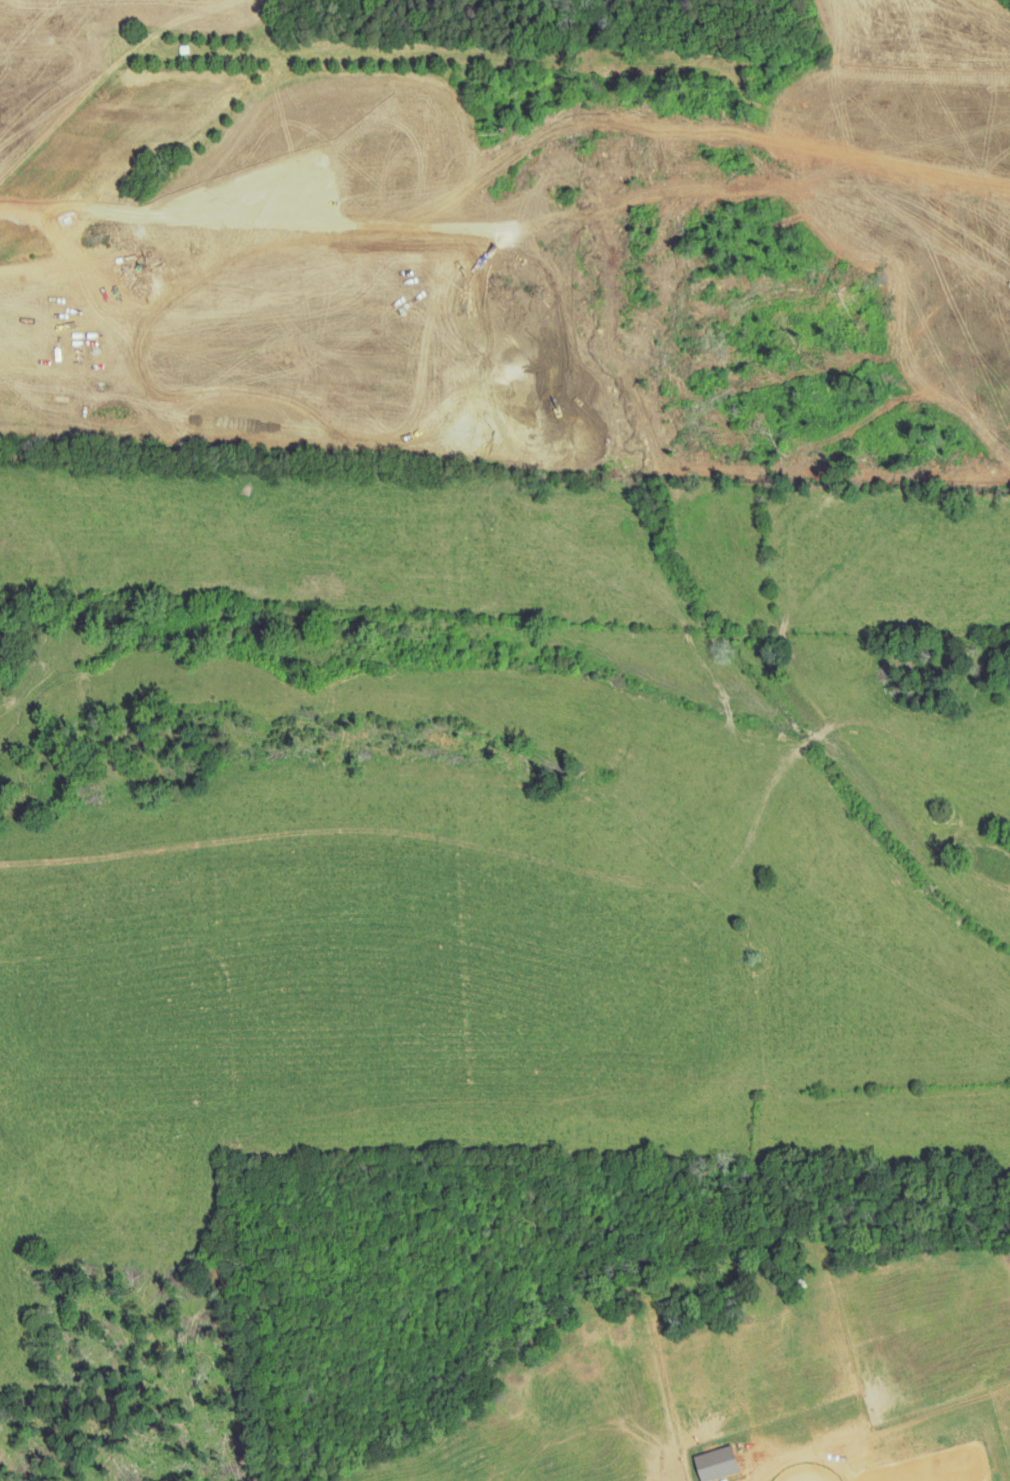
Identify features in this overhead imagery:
building: (714, 1463)

